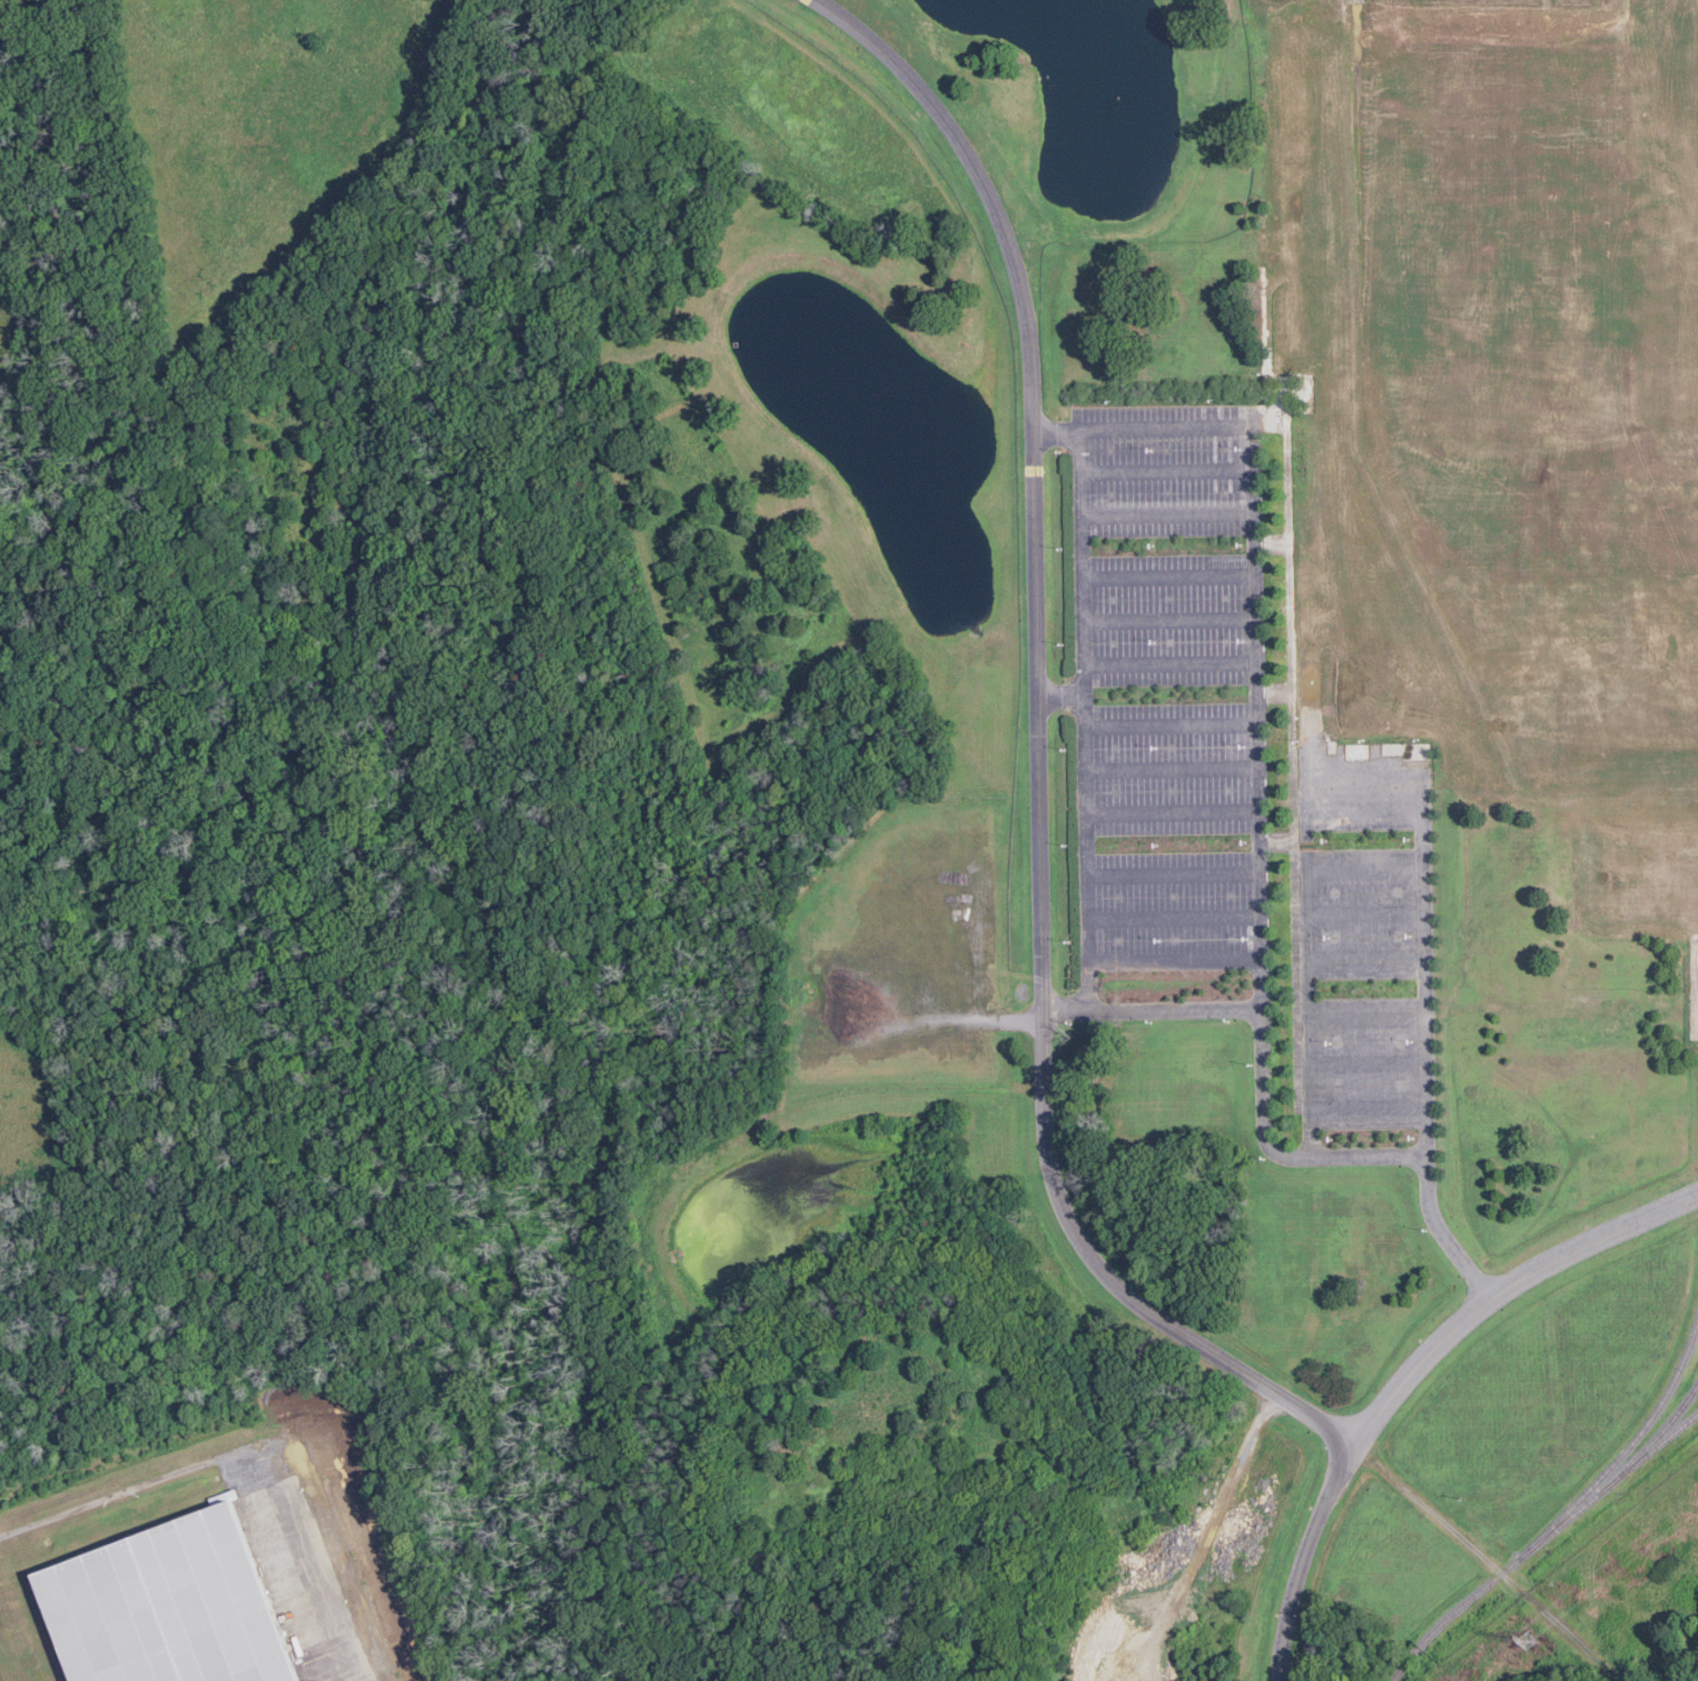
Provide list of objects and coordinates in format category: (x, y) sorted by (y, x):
road: (1168, 468)
road: (1169, 514)
road: (1171, 574)
road: (1172, 619)
road: (1173, 663)
road: (1062, 698)
road: (1087, 719)
road: (1173, 726)
road: (1037, 757)
road: (1258, 758)
road: (1173, 768)
road: (1173, 813)
road: (1173, 872)
road: (1174, 917)
road: (1428, 939)
road: (1174, 962)
road: (1151, 1010)
road: (1443, 1232)
road: (1409, 1371)
railway: (1659, 1433)
railway: (1631, 1442)
road: (357, 1521)
railway: (1540, 1541)
building: (169, 1605)
power tower: (1530, 1639)

